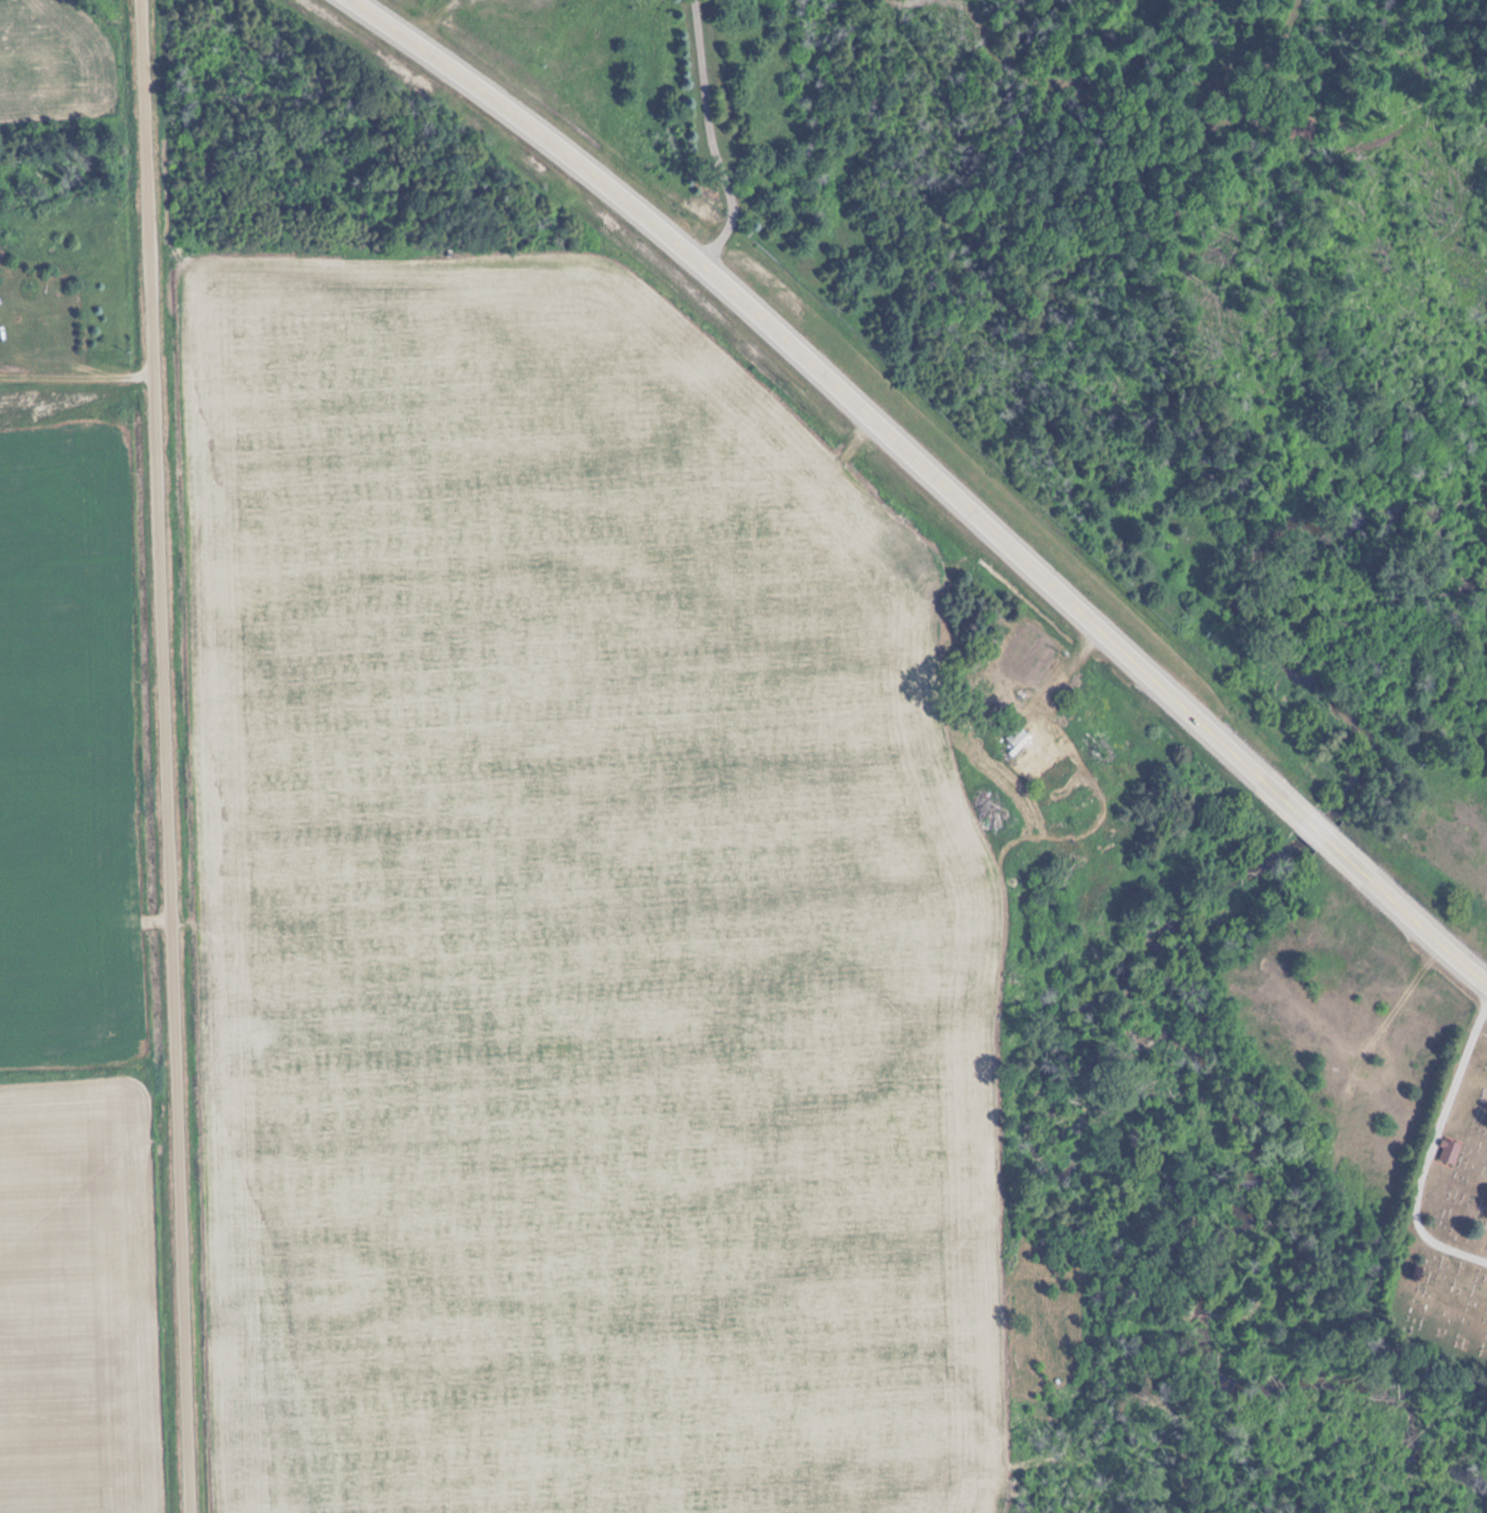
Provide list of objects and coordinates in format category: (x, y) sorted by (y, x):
road: (711, 138)
road: (931, 476)
river: (1272, 612)
building: (986, 688)
building: (1014, 736)
road: (157, 756)
river: (1315, 831)
crop: (570, 923)
crop: (75, 993)
road: (1427, 1146)
building: (1446, 1151)
river: (1244, 1200)
park: (1444, 1229)

